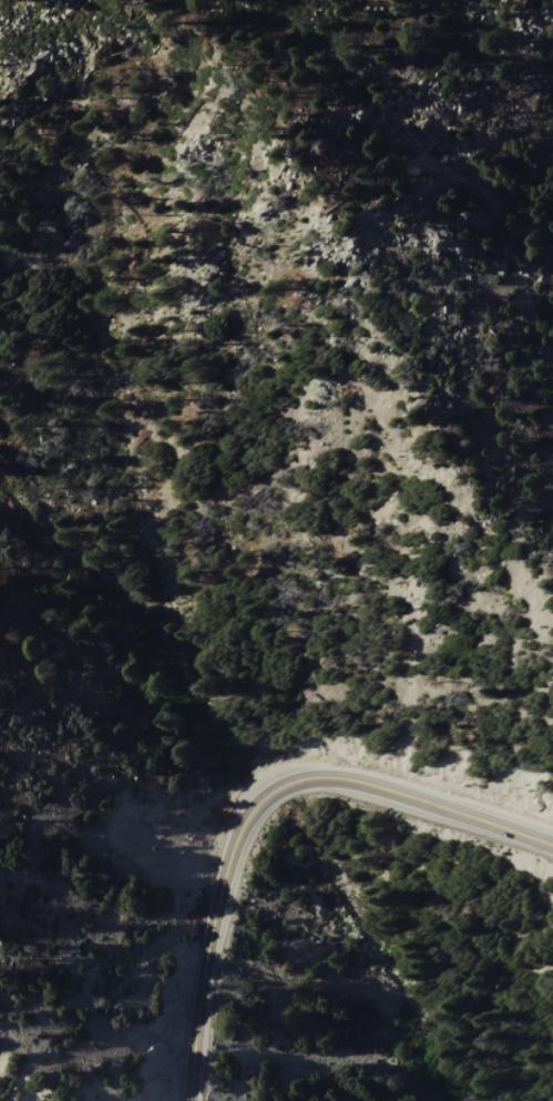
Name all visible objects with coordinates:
road: (259, 801)

